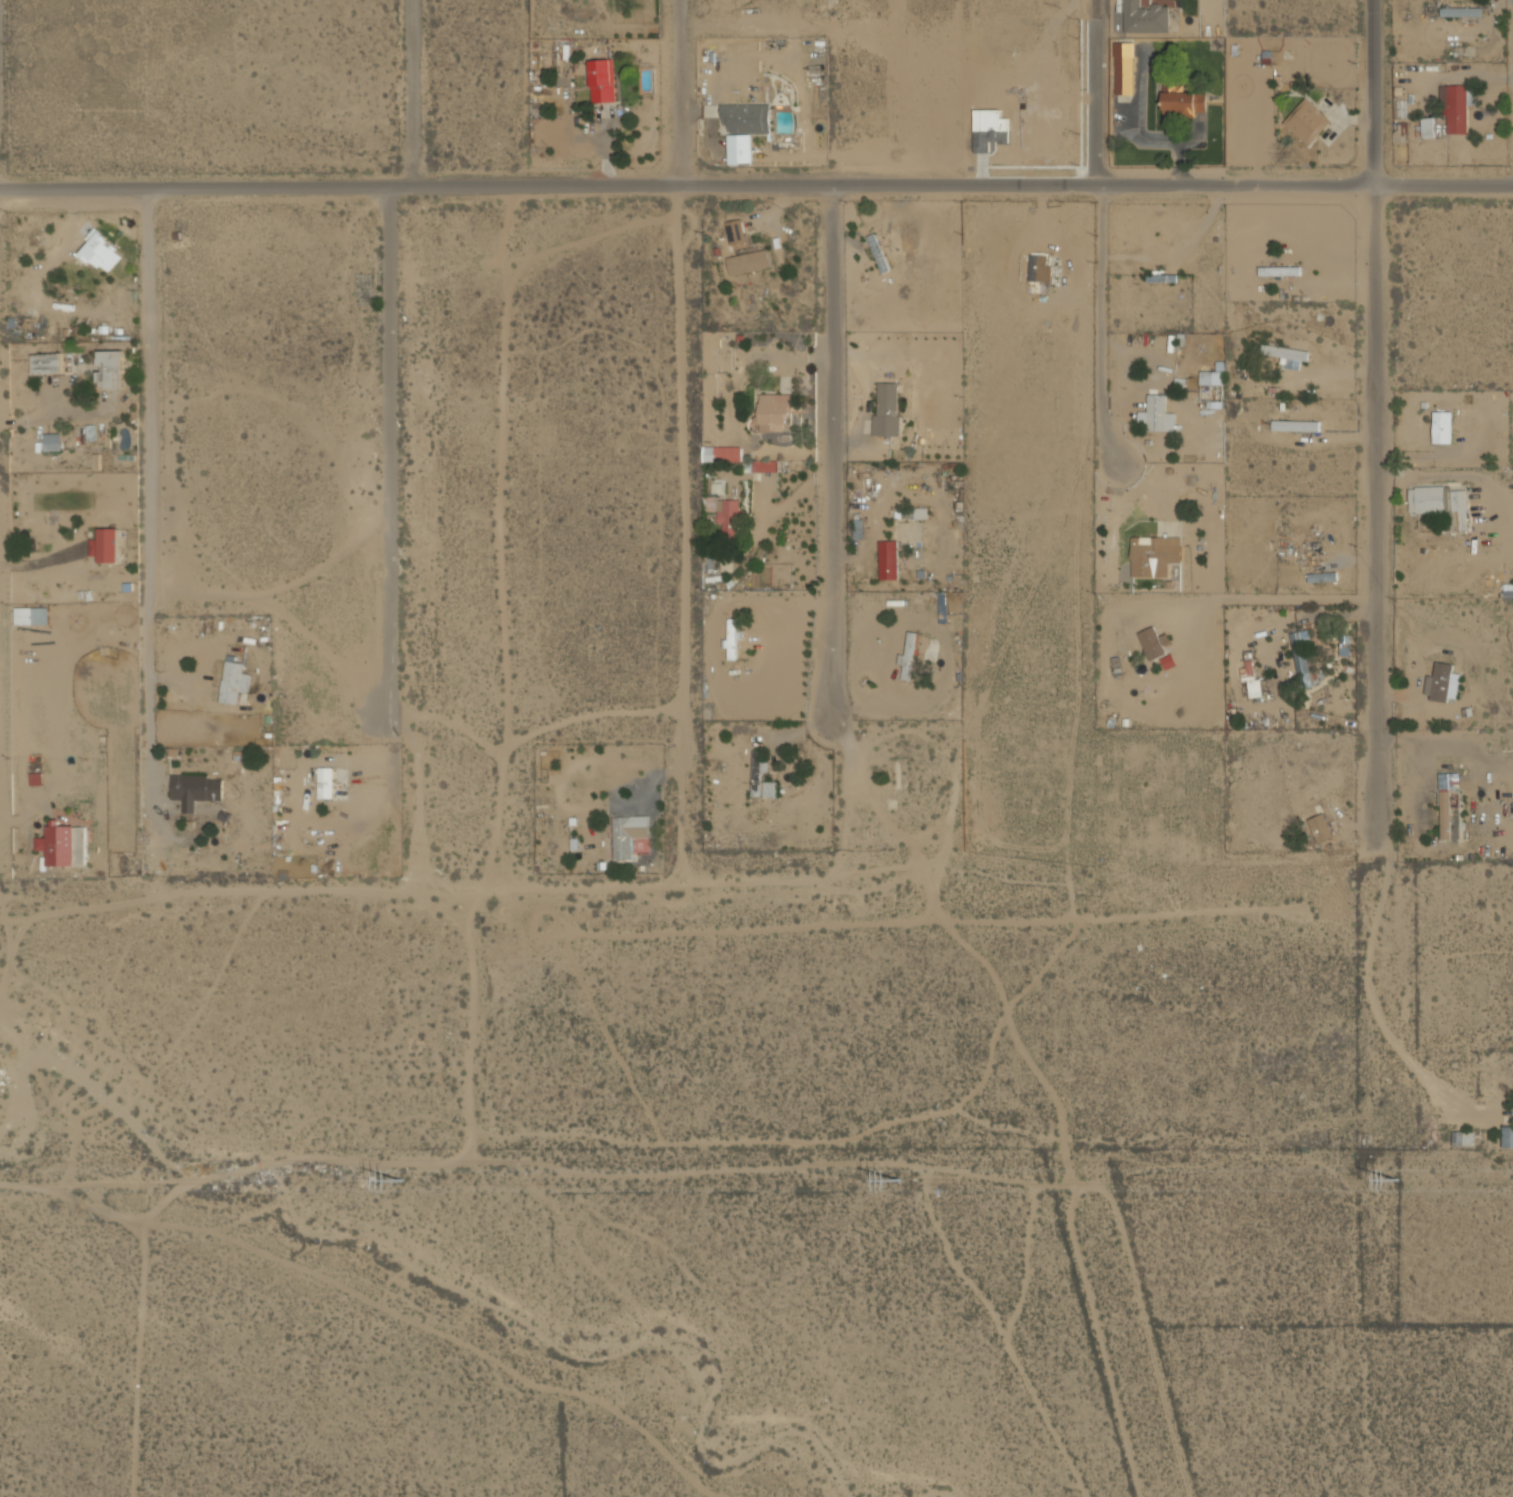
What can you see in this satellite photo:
building: (1465, 12)
building: (1145, 18)
building: (1123, 68)
building: (601, 80)
building: (1182, 100)
building: (1454, 109)
building: (746, 118)
building: (1306, 121)
building: (1427, 127)
building: (739, 149)
road: (756, 176)
road: (1095, 220)
building: (735, 232)
building: (101, 251)
building: (877, 253)
building: (749, 262)
building: (1037, 267)
building: (1280, 270)
building: (1287, 355)
building: (46, 363)
building: (111, 369)
building: (1211, 385)
building: (886, 410)
building: (774, 412)
building: (1156, 415)
road: (1377, 415)
road: (694, 422)
building: (1295, 425)
building: (1441, 427)
building: (52, 441)
building: (721, 454)
road: (828, 454)
road: (151, 457)
building: (764, 466)
building: (1439, 502)
building: (727, 515)
building: (109, 545)
building: (1154, 555)
building: (888, 560)
building: (1507, 590)
building: (942, 610)
building: (731, 638)
building: (1151, 643)
building: (908, 656)
building: (1300, 658)
building: (1167, 661)
building: (1251, 678)
building: (233, 681)
building: (1442, 682)
building: (756, 776)
building: (325, 782)
building: (196, 790)
building: (1446, 802)
building: (1320, 827)
building: (628, 834)
building: (58, 845)
building: (1507, 1136)
building: (1462, 1138)
power tower: (900, 1179)
power tower: (1399, 1181)
power tower: (402, 1182)

